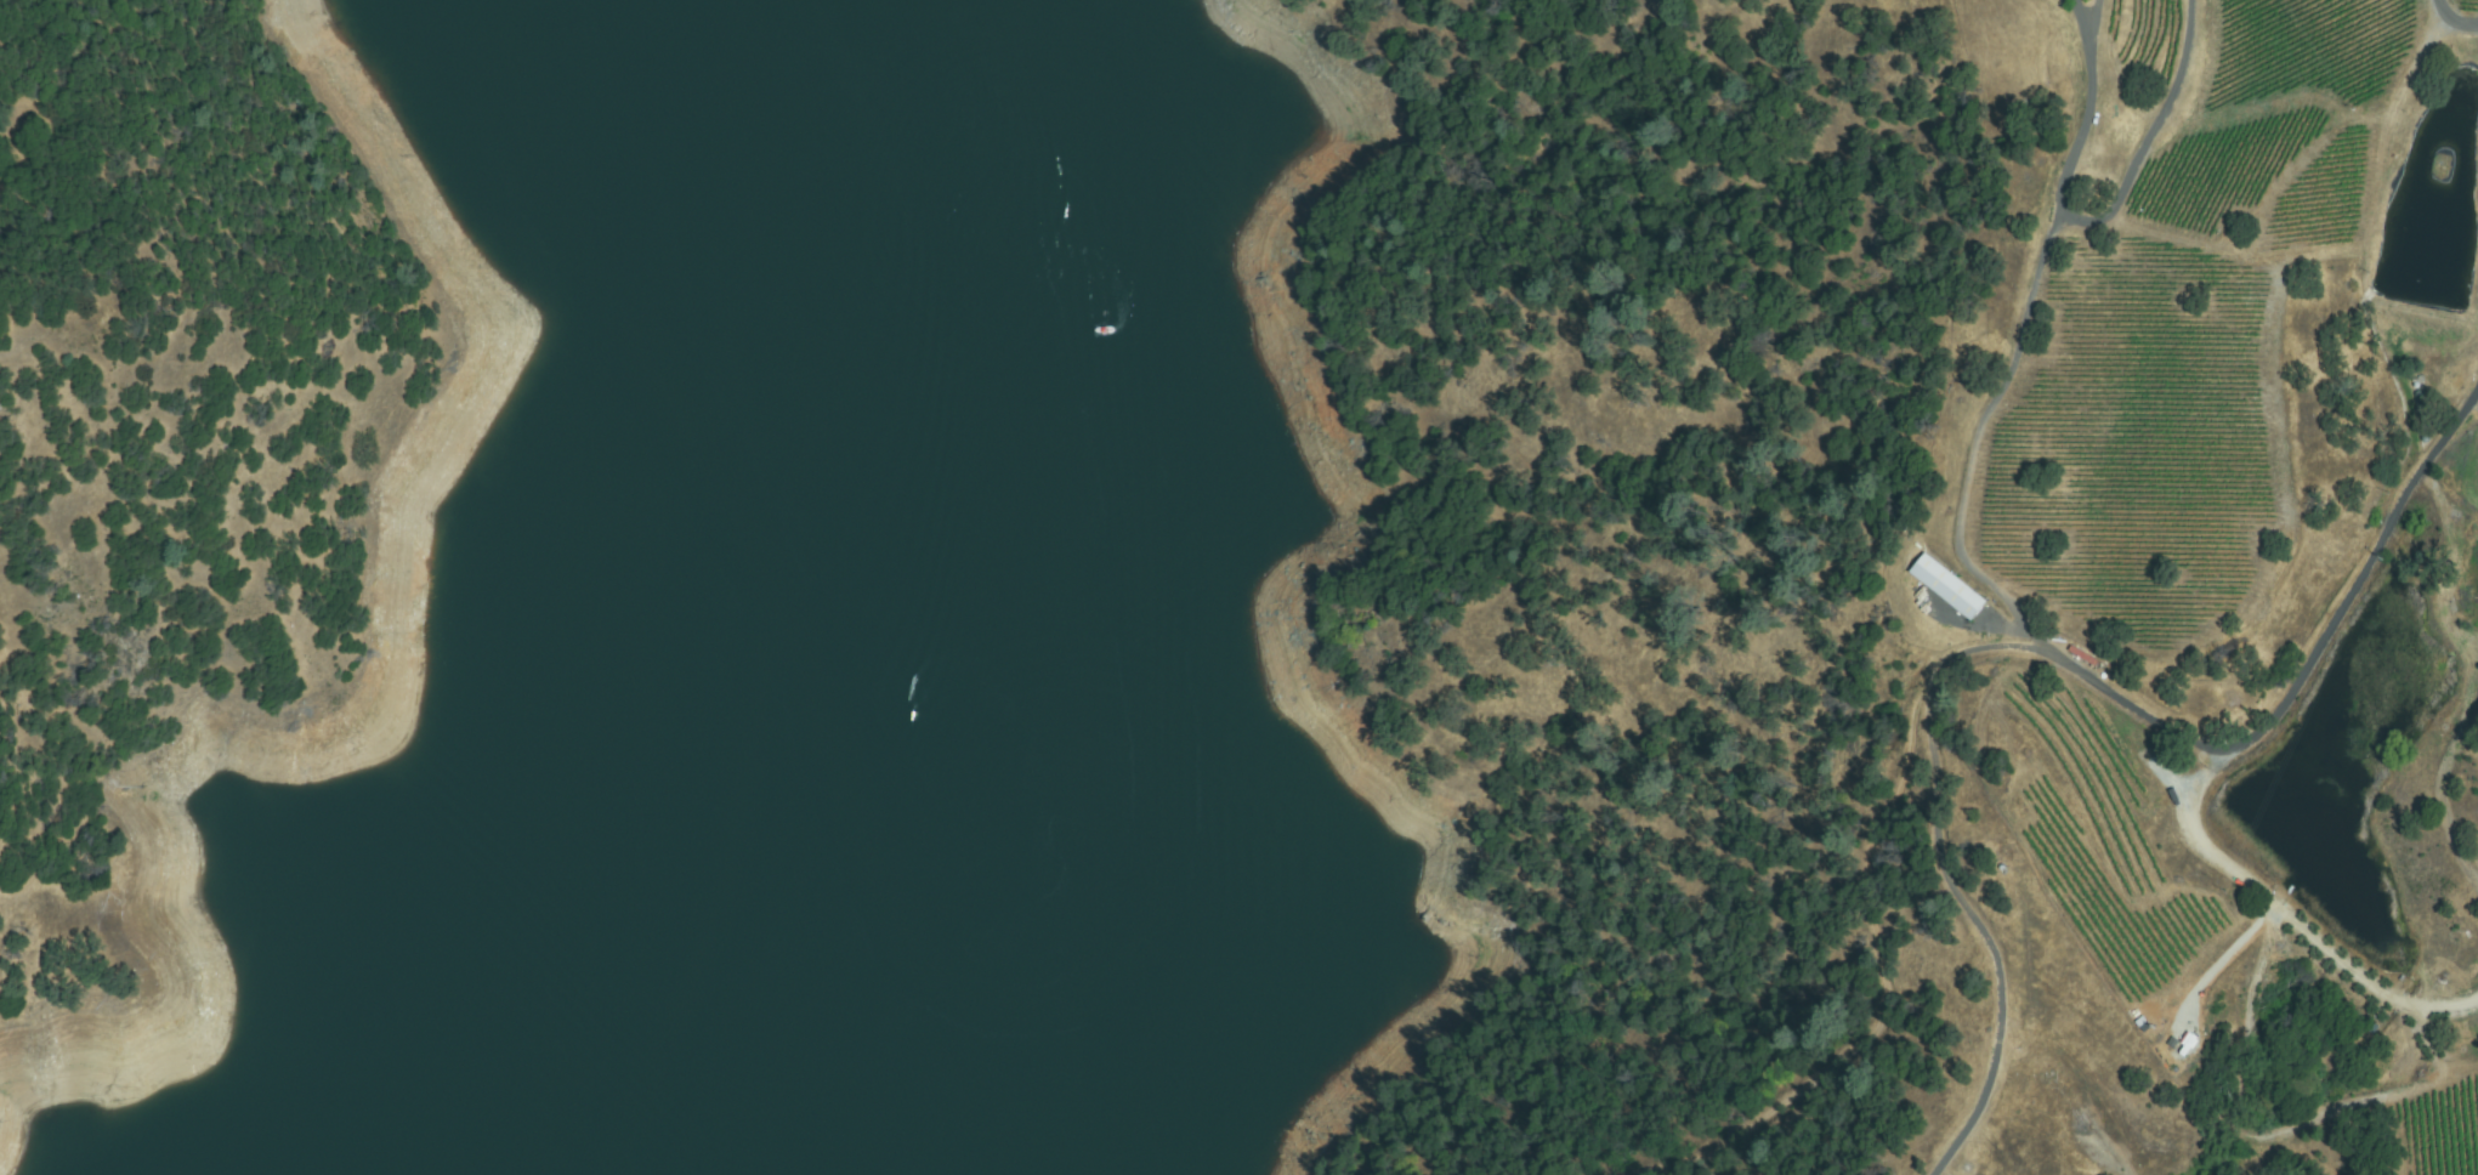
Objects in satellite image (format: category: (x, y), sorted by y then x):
road: (2448, 430)
building: (1947, 585)

